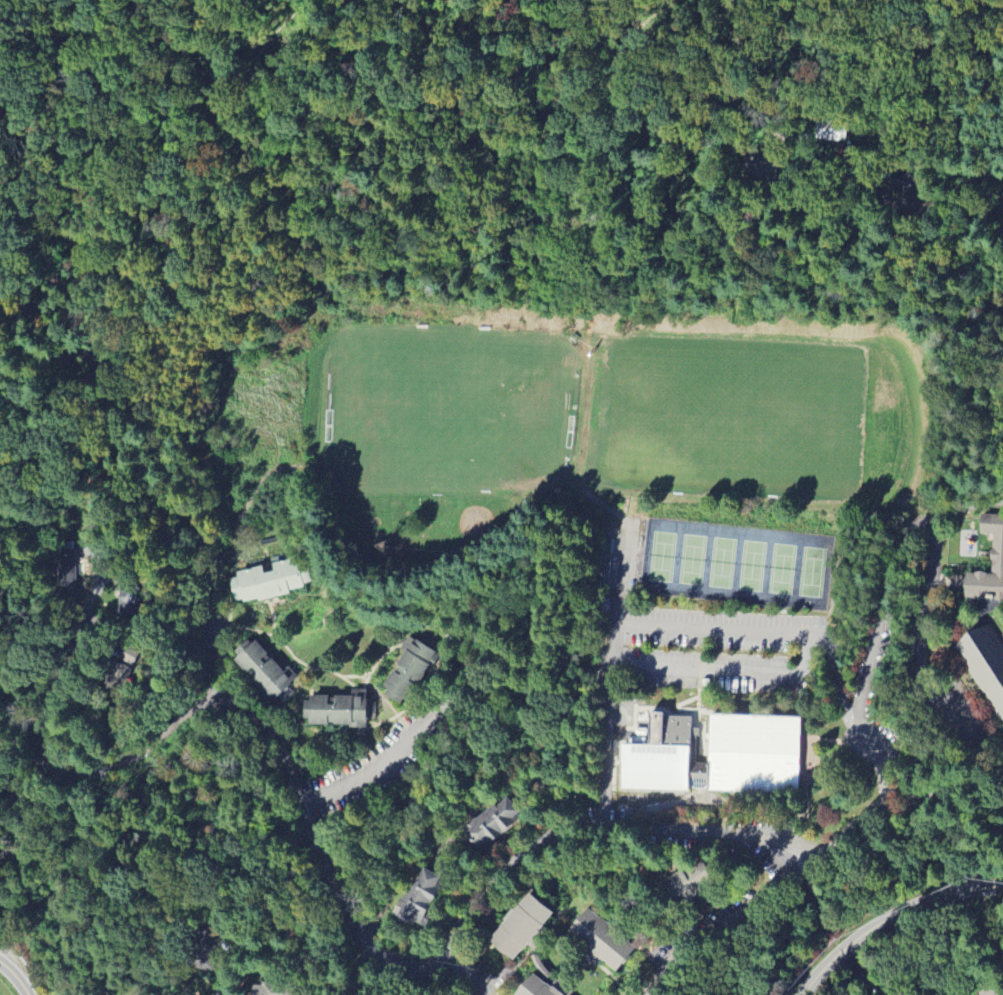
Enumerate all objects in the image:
road: (885, 202)
park: (263, 399)
park: (615, 414)
road: (119, 517)
road: (220, 559)
building: (987, 559)
park: (738, 566)
building: (66, 568)
building: (267, 579)
building: (126, 594)
building: (601, 614)
road: (882, 633)
road: (913, 648)
parking lot: (722, 651)
building: (984, 661)
building: (119, 667)
building: (262, 669)
building: (409, 669)
road: (614, 674)
road: (843, 696)
building: (334, 708)
building: (754, 752)
building: (662, 758)
parking lot: (373, 765)
road: (922, 789)
building: (493, 822)
road: (327, 872)
building: (698, 878)
building: (415, 899)
road: (746, 910)
road: (888, 916)
building: (521, 926)
building: (598, 940)
building: (200, 950)
road: (302, 953)
road: (17, 976)
road: (469, 979)
road: (661, 985)
building: (274, 987)
building: (542, 987)
crop: (4, 990)
road: (987, 991)
crop: (76, 993)

